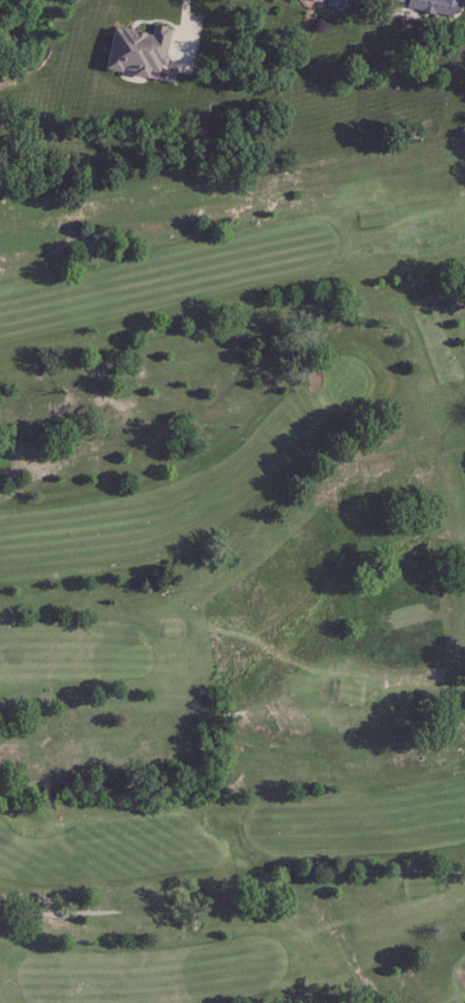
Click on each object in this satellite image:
building: (317, 0)
building: (338, 4)
building: (434, 6)
road: (184, 23)
building: (137, 51)
park: (234, 549)
road: (28, 914)

